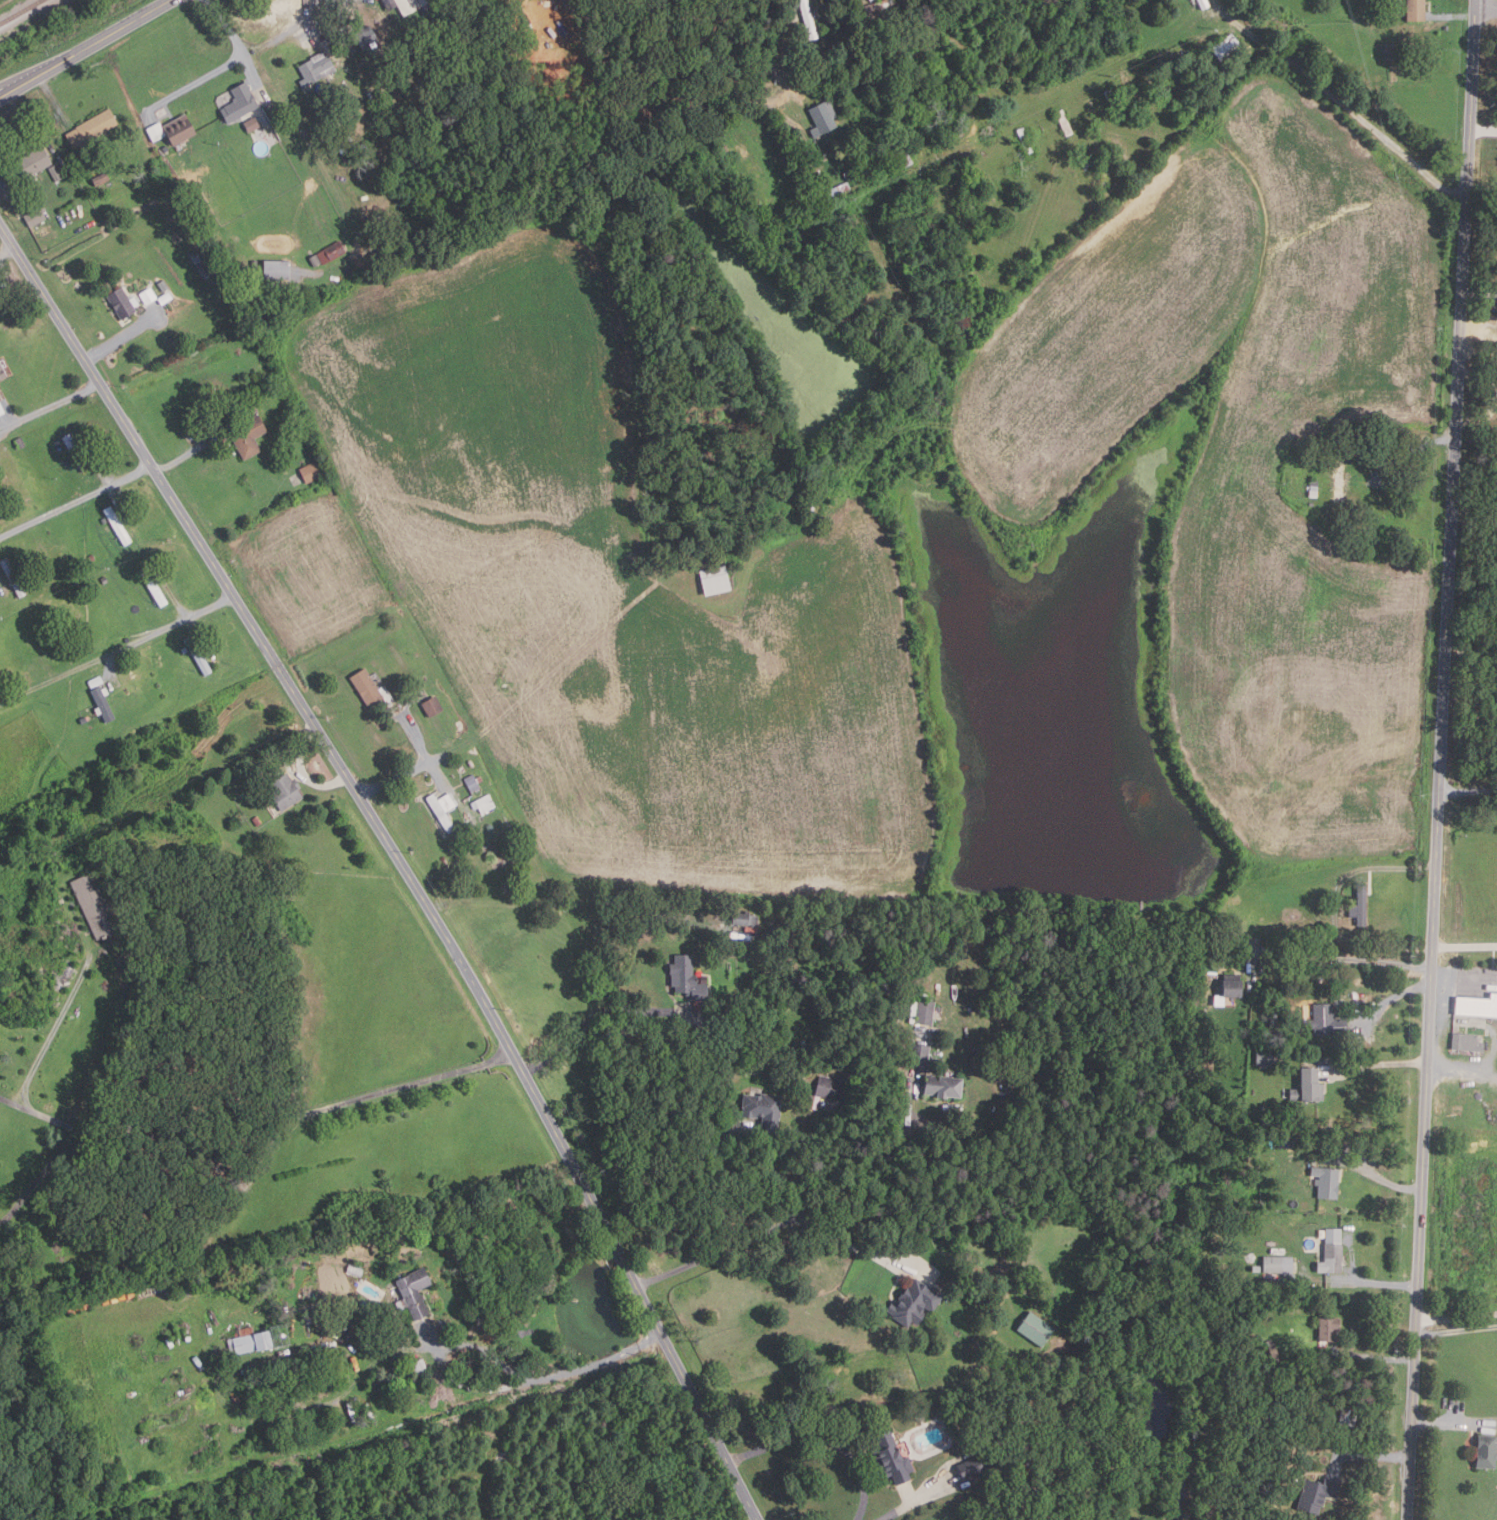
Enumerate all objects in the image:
building: (1194, 0)
building: (1204, 4)
building: (411, 5)
building: (877, 6)
road: (1486, 8)
building: (1417, 10)
railway: (22, 12)
road: (1453, 16)
building: (982, 17)
building: (809, 19)
road: (834, 36)
building: (368, 40)
road: (258, 46)
road: (85, 48)
building: (1228, 49)
building: (1391, 52)
building: (317, 68)
building: (381, 71)
building: (972, 76)
road: (195, 79)
building: (1113, 101)
building: (240, 103)
building: (823, 118)
building: (1065, 122)
building: (252, 124)
building: (179, 129)
building: (92, 130)
road: (1483, 130)
building: (1026, 141)
road: (1389, 141)
building: (899, 151)
building: (813, 158)
building: (1103, 158)
building: (957, 161)
building: (34, 162)
building: (804, 165)
building: (851, 173)
building: (820, 177)
building: (101, 178)
building: (839, 190)
building: (971, 192)
building: (915, 195)
road: (1095, 204)
building: (35, 217)
building: (989, 224)
building: (332, 252)
building: (196, 257)
building: (315, 261)
building: (278, 270)
building: (205, 271)
building: (163, 286)
road: (1479, 291)
building: (148, 296)
building: (123, 303)
building: (2, 371)
road: (1495, 398)
road: (50, 406)
building: (1, 409)
building: (247, 435)
building: (1361, 440)
building: (20, 443)
building: (76, 453)
road: (1410, 453)
building: (311, 472)
building: (1341, 478)
building: (1314, 489)
road: (76, 505)
building: (103, 521)
building: (118, 525)
building: (92, 558)
building: (13, 577)
building: (716, 581)
building: (153, 587)
building: (184, 650)
road: (118, 653)
building: (197, 657)
building: (96, 682)
building: (368, 686)
building: (103, 704)
building: (433, 707)
building: (84, 720)
road: (415, 737)
road: (1439, 759)
building: (472, 763)
road: (300, 771)
road: (400, 776)
road: (447, 781)
building: (474, 781)
building: (286, 790)
road: (1467, 792)
building: (484, 803)
building: (443, 809)
building: (258, 820)
building: (471, 824)
road: (401, 857)
road: (585, 901)
building: (1361, 905)
building: (97, 907)
building: (745, 918)
building: (1298, 930)
road: (1385, 942)
road: (1463, 946)
road: (1339, 958)
building: (688, 977)
building: (1234, 987)
road: (1387, 1000)
building: (1477, 1005)
building: (925, 1012)
road: (603, 1013)
building: (1326, 1019)
road: (51, 1034)
road: (1491, 1037)
building: (1467, 1042)
building: (919, 1054)
building: (1267, 1056)
road: (1374, 1064)
road: (1461, 1065)
building: (944, 1085)
building: (1309, 1085)
building: (829, 1088)
road: (909, 1103)
building: (765, 1111)
road: (257, 1116)
road: (1369, 1173)
building: (1328, 1181)
road: (718, 1184)
building: (1295, 1220)
road: (778, 1222)
road: (860, 1249)
building: (1332, 1251)
building: (1279, 1264)
building: (355, 1270)
road: (1375, 1282)
building: (415, 1292)
building: (916, 1302)
building: (316, 1316)
road: (1456, 1316)
building: (1038, 1328)
building: (1329, 1328)
road: (1456, 1330)
building: (250, 1340)
building: (1272, 1351)
road: (1368, 1355)
building: (418, 1367)
road: (540, 1379)
building: (384, 1390)
building: (1349, 1417)
road: (1451, 1423)
road: (823, 1440)
building: (1487, 1451)
road: (1364, 1455)
building: (893, 1458)
building: (977, 1465)
building: (1259, 1484)
building: (1318, 1494)
road: (908, 1507)

